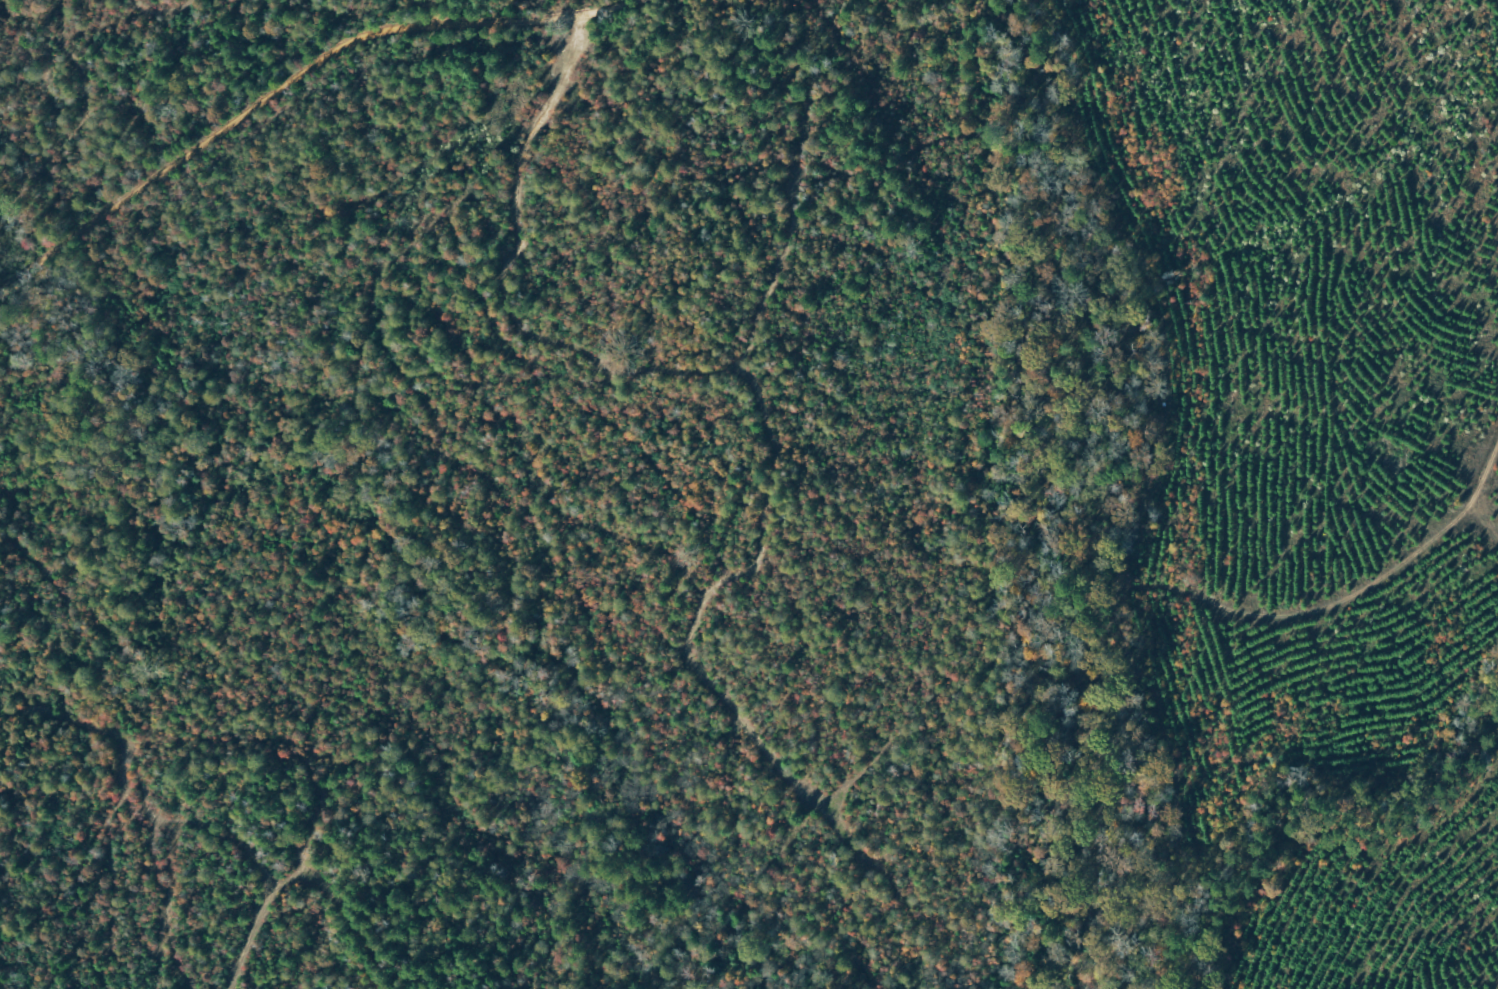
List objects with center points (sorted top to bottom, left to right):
road: (351, 182)

